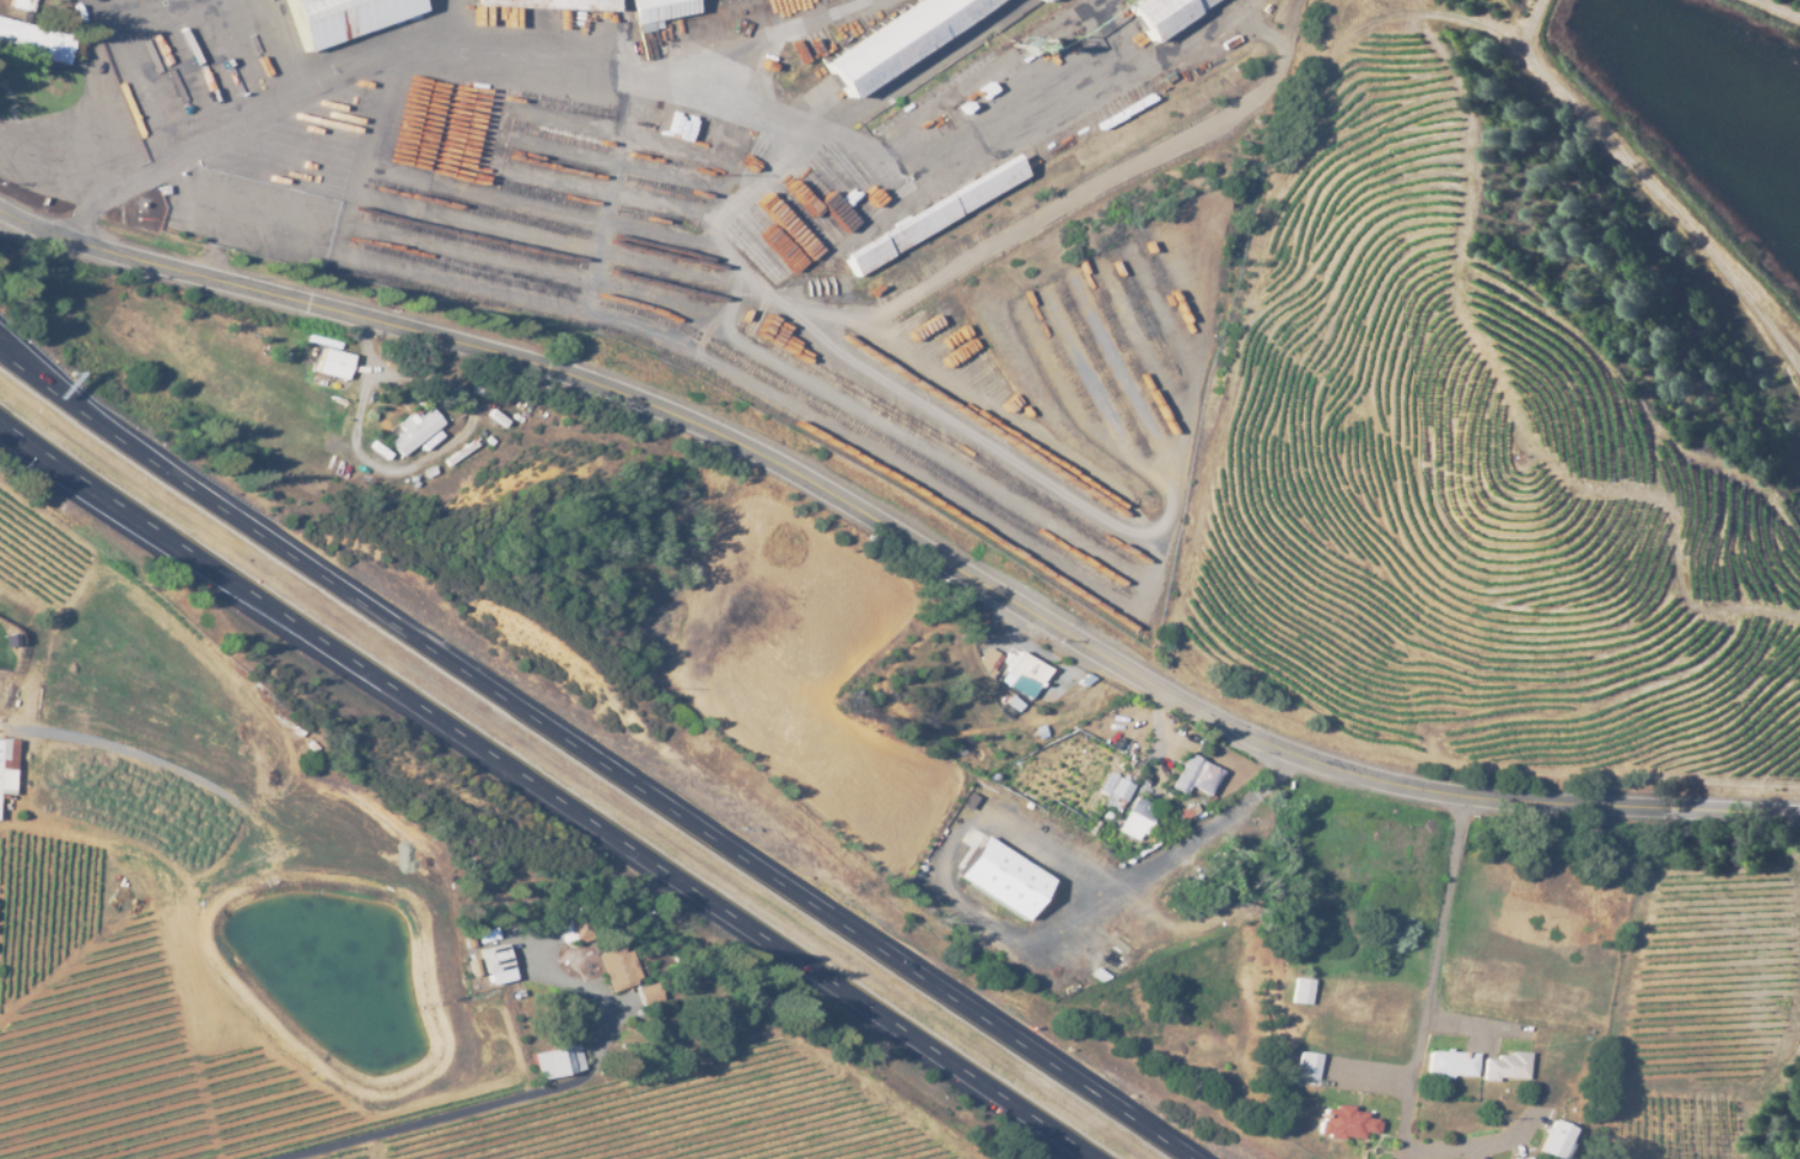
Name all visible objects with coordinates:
building: (22, 4)
building: (551, 6)
building: (656, 12)
building: (1162, 13)
building: (342, 17)
building: (899, 36)
building: (35, 38)
road: (268, 105)
building: (998, 174)
road: (32, 229)
building: (332, 364)
road: (52, 380)
building: (497, 416)
building: (412, 431)
building: (491, 439)
building: (377, 449)
building: (463, 451)
road: (412, 457)
building: (433, 470)
road: (937, 544)
building: (993, 660)
building: (1025, 675)
building: (1085, 681)
building: (1013, 704)
building: (1086, 708)
building: (835, 722)
building: (150, 743)
road: (596, 757)
building: (265, 762)
building: (6, 767)
building: (1195, 777)
building: (243, 787)
road: (548, 792)
building: (1117, 796)
building: (1185, 813)
road: (234, 815)
building: (1134, 820)
building: (999, 879)
road: (1170, 881)
building: (574, 931)
building: (495, 960)
building: (616, 968)
building: (499, 978)
road: (1445, 988)
building: (1300, 991)
building: (650, 996)
building: (557, 1063)
building: (1306, 1066)
building: (1450, 1066)
building: (1504, 1068)
road: (423, 1121)
building: (1343, 1124)
building: (1554, 1141)
road: (1510, 1147)
building: (1526, 1158)

